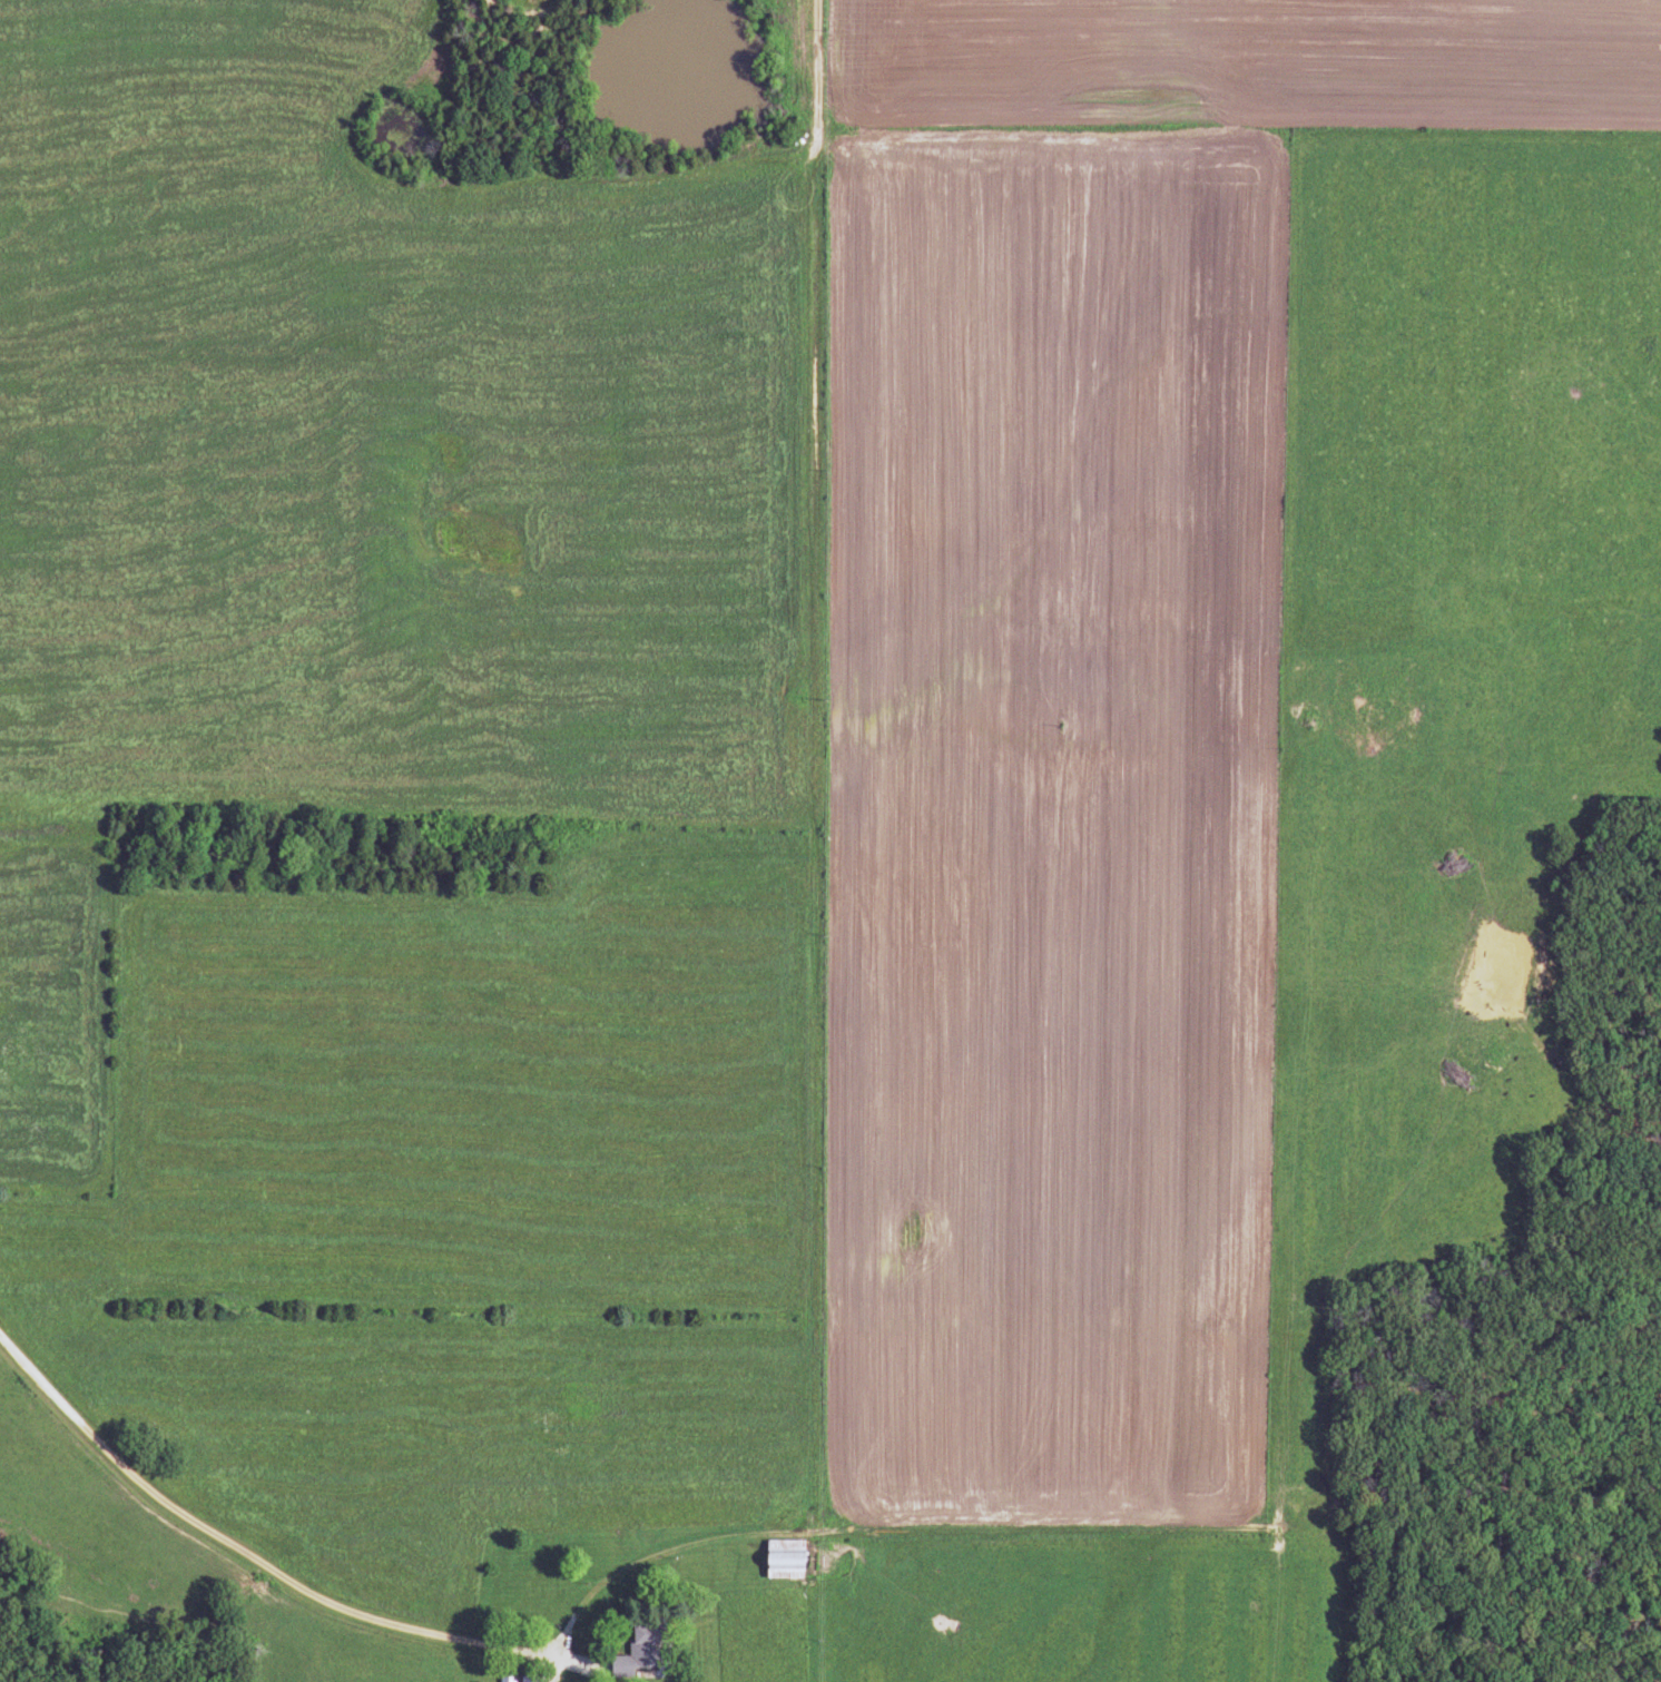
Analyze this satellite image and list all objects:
building: (780, 1560)
road: (253, 1561)
building: (635, 1652)
building: (503, 1679)
building: (529, 1679)

